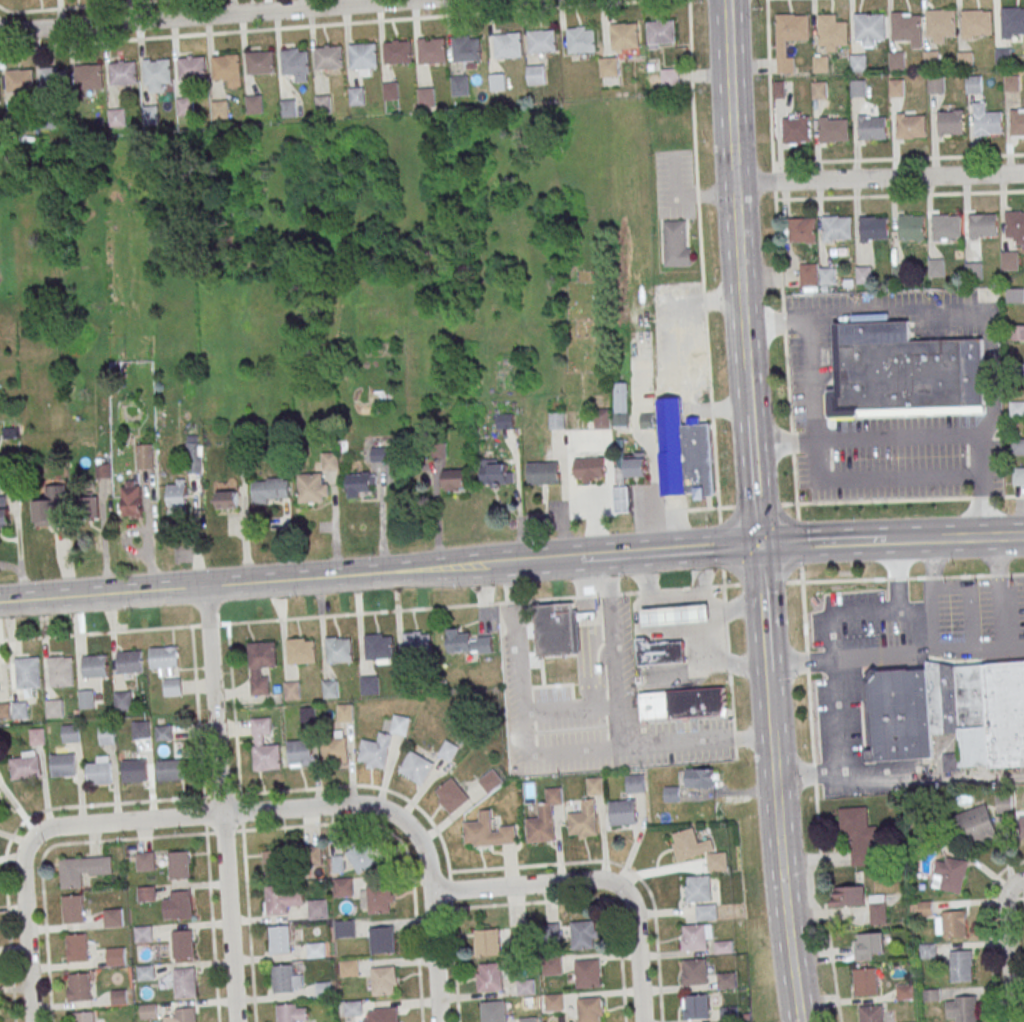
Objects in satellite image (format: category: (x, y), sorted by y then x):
road: (98, 6)
road: (207, 15)
building: (1012, 22)
building: (976, 23)
building: (940, 24)
road: (325, 25)
building: (869, 27)
building: (906, 27)
building: (790, 28)
road: (0, 29)
building: (832, 31)
building: (660, 32)
building: (624, 35)
building: (581, 41)
building: (541, 42)
building: (507, 46)
building: (466, 50)
building: (397, 52)
building: (431, 52)
building: (362, 56)
building: (1003, 57)
building: (328, 58)
building: (931, 59)
building: (965, 60)
building: (897, 61)
building: (260, 62)
building: (294, 63)
building: (859, 63)
building: (820, 64)
building: (226, 66)
building: (606, 67)
building: (192, 69)
building: (157, 71)
building: (122, 74)
building: (534, 75)
building: (88, 77)
building: (19, 81)
building: (53, 81)
road: (769, 81)
building: (496, 82)
building: (972, 84)
building: (1011, 84)
building: (935, 85)
building: (459, 86)
building: (857, 88)
building: (895, 88)
building: (819, 89)
building: (390, 92)
building: (356, 96)
building: (425, 98)
building: (254, 105)
building: (322, 105)
building: (185, 107)
building: (288, 108)
building: (219, 110)
building: (150, 116)
building: (117, 119)
building: (13, 120)
building: (47, 121)
building: (950, 122)
building: (987, 122)
building: (1017, 122)
building: (910, 126)
building: (872, 127)
building: (833, 129)
building: (796, 130)
road: (898, 158)
road: (879, 178)
road: (733, 179)
road: (880, 196)
building: (983, 225)
building: (911, 227)
building: (946, 227)
building: (1014, 227)
building: (836, 228)
building: (873, 228)
building: (800, 230)
building: (675, 244)
road: (700, 254)
building: (1009, 260)
building: (935, 268)
building: (808, 275)
building: (862, 275)
building: (826, 276)
building: (1014, 295)
road: (776, 321)
building: (896, 372)
road: (992, 374)
building: (975, 376)
road: (748, 387)
road: (680, 395)
building: (621, 404)
road: (789, 406)
building: (1016, 409)
building: (602, 419)
building: (556, 420)
building: (505, 421)
building: (646, 421)
road: (897, 441)
building: (194, 454)
building: (380, 454)
building: (145, 457)
building: (693, 459)
building: (330, 461)
building: (589, 468)
building: (103, 469)
building: (497, 474)
building: (543, 474)
building: (1018, 476)
building: (627, 479)
building: (454, 480)
road: (755, 480)
building: (360, 485)
building: (311, 489)
building: (270, 491)
building: (178, 497)
building: (131, 499)
building: (228, 499)
road: (909, 499)
building: (50, 507)
building: (90, 507)
road: (981, 507)
building: (3, 512)
road: (984, 537)
road: (915, 539)
road: (879, 540)
road: (816, 543)
traffic signals: (760, 546)
road: (674, 550)
road: (18, 551)
road: (583, 557)
road: (10, 568)
road: (933, 574)
road: (895, 576)
road: (289, 580)
road: (803, 582)
road: (793, 583)
road: (761, 584)
road: (999, 592)
road: (676, 598)
road: (764, 606)
road: (713, 607)
road: (368, 613)
building: (676, 615)
gas station: (676, 615)
road: (839, 616)
building: (558, 628)
road: (715, 639)
building: (467, 642)
building: (416, 645)
building: (378, 648)
building: (338, 651)
building: (300, 652)
road: (615, 652)
building: (659, 652)
building: (162, 658)
road: (851, 660)
building: (129, 662)
building: (260, 666)
building: (94, 667)
building: (60, 672)
building: (27, 673)
building: (407, 682)
building: (369, 686)
building: (172, 688)
building: (329, 690)
building: (291, 691)
road: (769, 692)
building: (86, 699)
building: (121, 702)
building: (681, 704)
building: (53, 709)
building: (4, 711)
building: (19, 711)
building: (980, 713)
building: (344, 714)
building: (901, 714)
building: (307, 716)
building: (399, 726)
road: (234, 727)
building: (138, 731)
building: (163, 733)
building: (70, 735)
building: (106, 736)
building: (36, 737)
building: (263, 747)
building: (333, 751)
building: (374, 752)
building: (448, 752)
building: (299, 753)
road: (554, 754)
building: (62, 766)
building: (24, 768)
building: (415, 768)
building: (169, 771)
building: (133, 772)
road: (872, 773)
building: (98, 774)
building: (699, 778)
building: (490, 782)
building: (634, 785)
building: (594, 787)
road: (263, 792)
building: (451, 797)
road: (221, 804)
road: (255, 811)
building: (621, 814)
building: (543, 820)
building: (583, 821)
road: (340, 824)
building: (976, 825)
building: (487, 833)
building: (858, 836)
building: (689, 846)
building: (311, 855)
building: (363, 857)
building: (145, 861)
building: (275, 863)
building: (716, 863)
building: (178, 865)
road: (520, 866)
road: (782, 869)
building: (70, 874)
building: (949, 874)
road: (529, 884)
building: (342, 888)
building: (697, 888)
building: (848, 896)
building: (282, 899)
building: (378, 900)
road: (570, 900)
building: (177, 904)
road: (1023, 904)
road: (210, 909)
building: (73, 910)
building: (317, 910)
building: (878, 910)
road: (826, 911)
building: (706, 913)
building: (112, 918)
road: (654, 922)
building: (954, 923)
road: (248, 926)
building: (344, 929)
road: (25, 930)
road: (987, 931)
building: (142, 935)
building: (583, 935)
building: (694, 939)
building: (278, 941)
building: (381, 941)
road: (46, 942)
building: (489, 942)
building: (869, 945)
building: (181, 946)
road: (1008, 946)
road: (417, 947)
building: (76, 948)
building: (315, 951)
building: (927, 951)
road: (638, 955)
building: (114, 957)
road: (434, 957)
road: (454, 965)
building: (961, 966)
building: (551, 967)
building: (348, 969)
building: (588, 973)
building: (694, 973)
building: (144, 974)
building: (489, 977)
building: (282, 980)
building: (865, 981)
building: (382, 982)
building: (726, 982)
building: (184, 984)
building: (525, 987)
building: (79, 988)
building: (323, 989)
building: (905, 991)
building: (118, 998)
building: (553, 1004)
building: (695, 1008)
building: (352, 1009)
building: (590, 1009)
building: (964, 1009)
building: (147, 1012)
building: (493, 1012)
building: (285, 1014)
building: (871, 1014)
building: (385, 1015)
building: (728, 1015)
building: (182, 1016)
building: (83, 1017)
building: (528, 1020)

